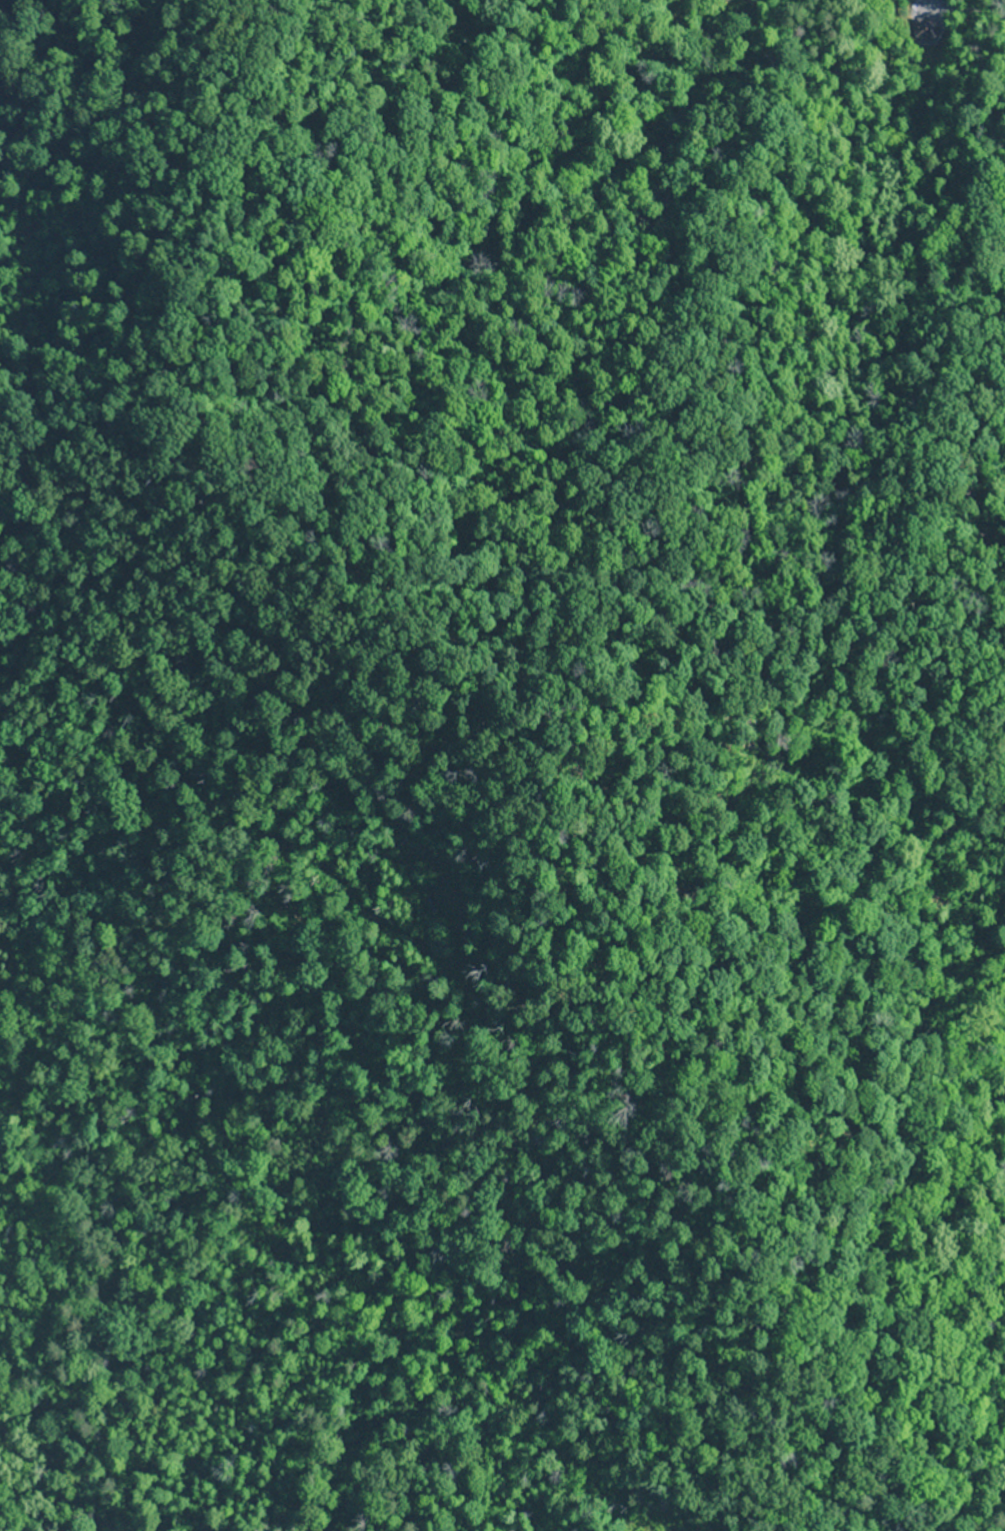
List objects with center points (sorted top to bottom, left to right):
road: (83, 1461)

